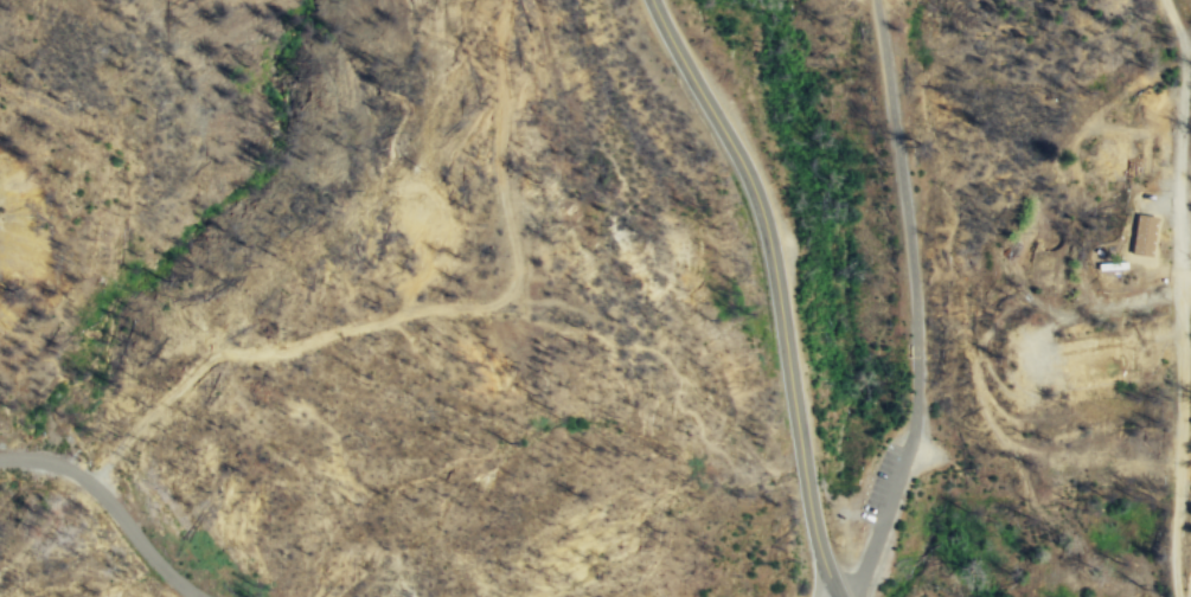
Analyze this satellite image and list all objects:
road: (907, 216)
road: (1180, 288)
road: (777, 289)
road: (1170, 295)
parking lot: (898, 473)
road: (116, 506)
road: (882, 518)

